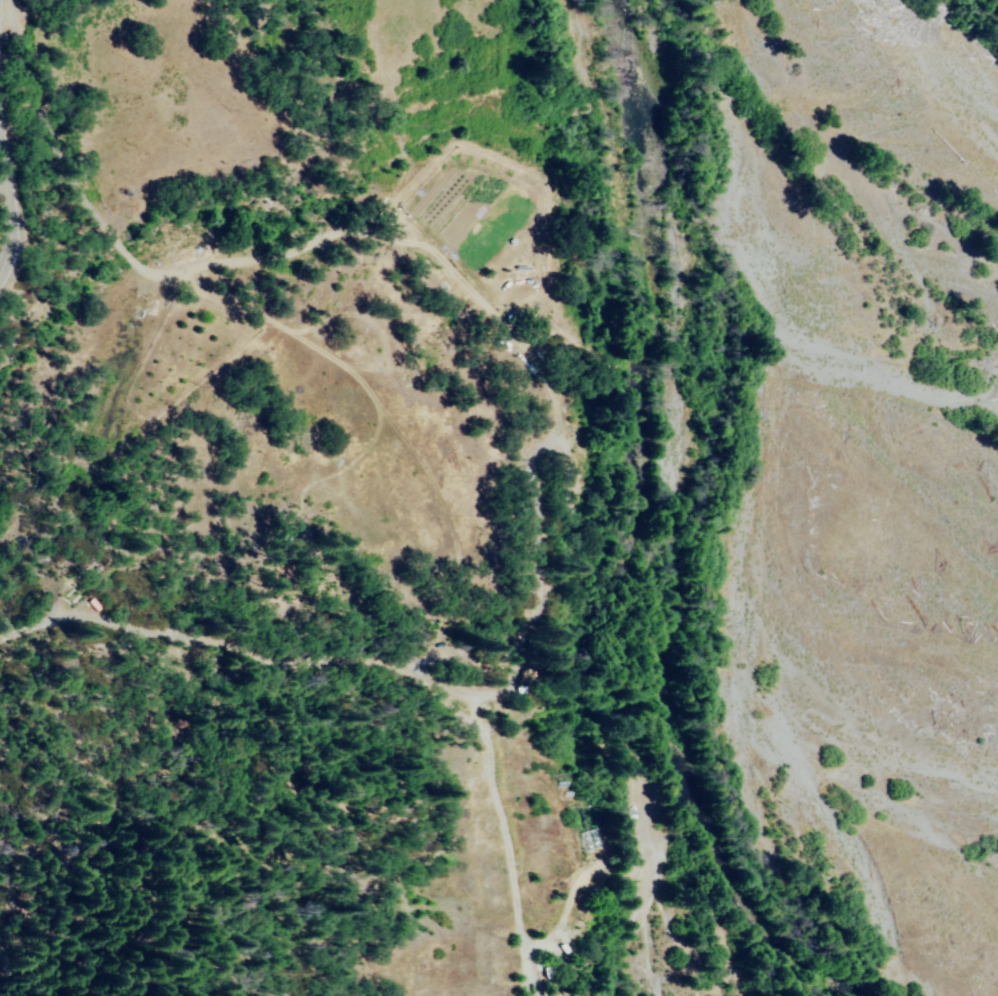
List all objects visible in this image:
road: (51, 214)
river: (675, 373)
road: (20, 608)
river: (869, 870)

